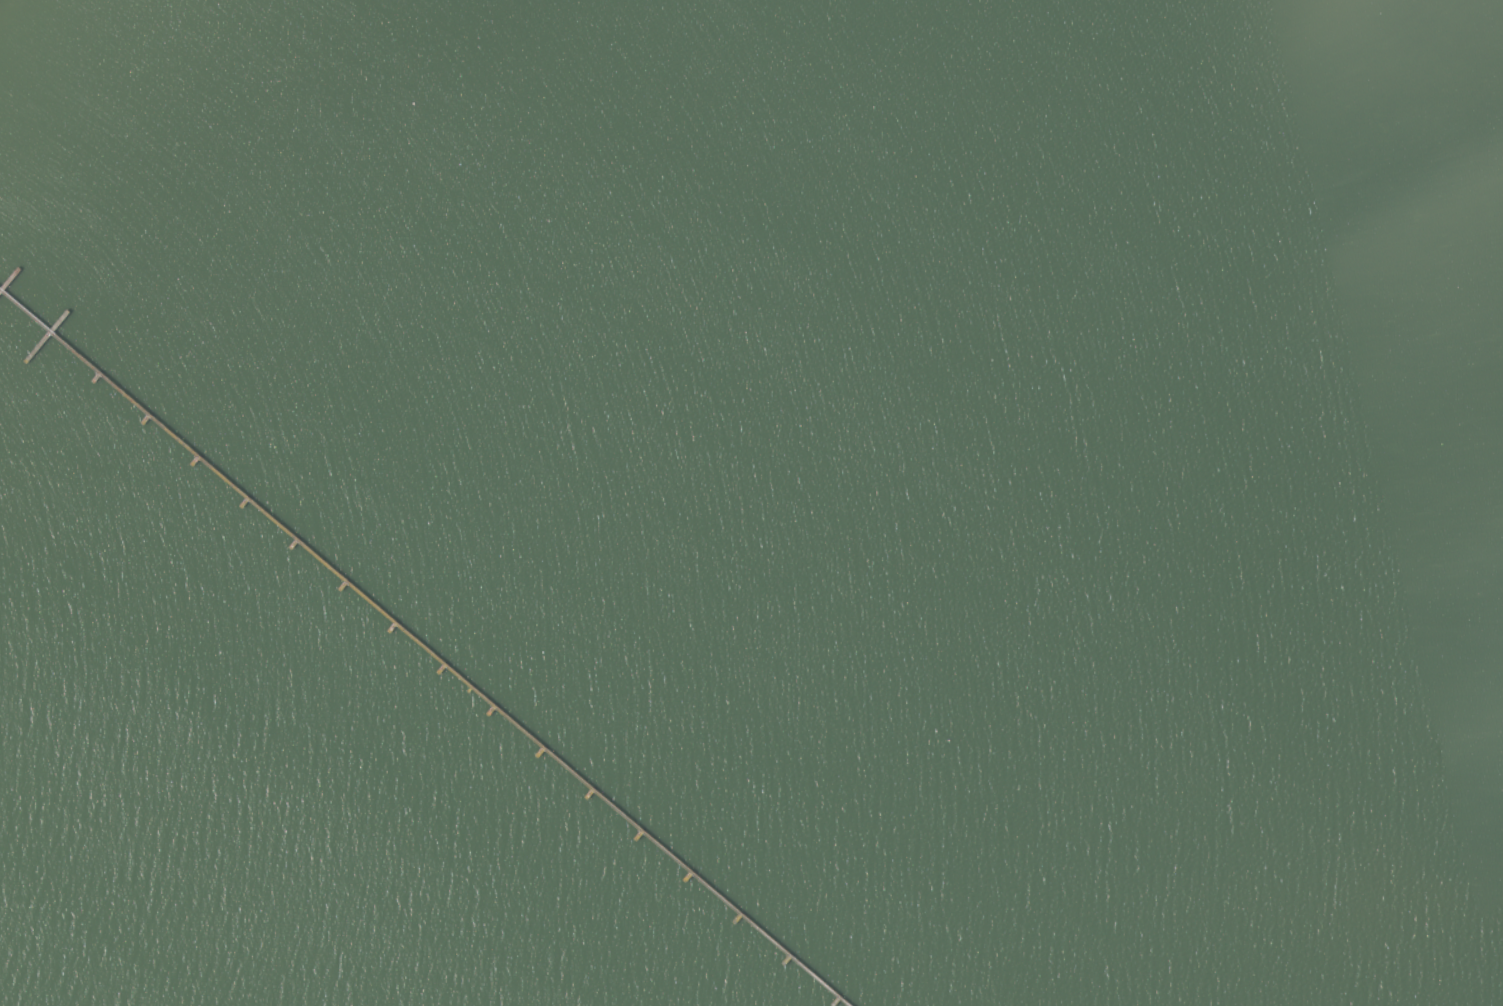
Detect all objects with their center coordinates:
pier: (425, 647)

